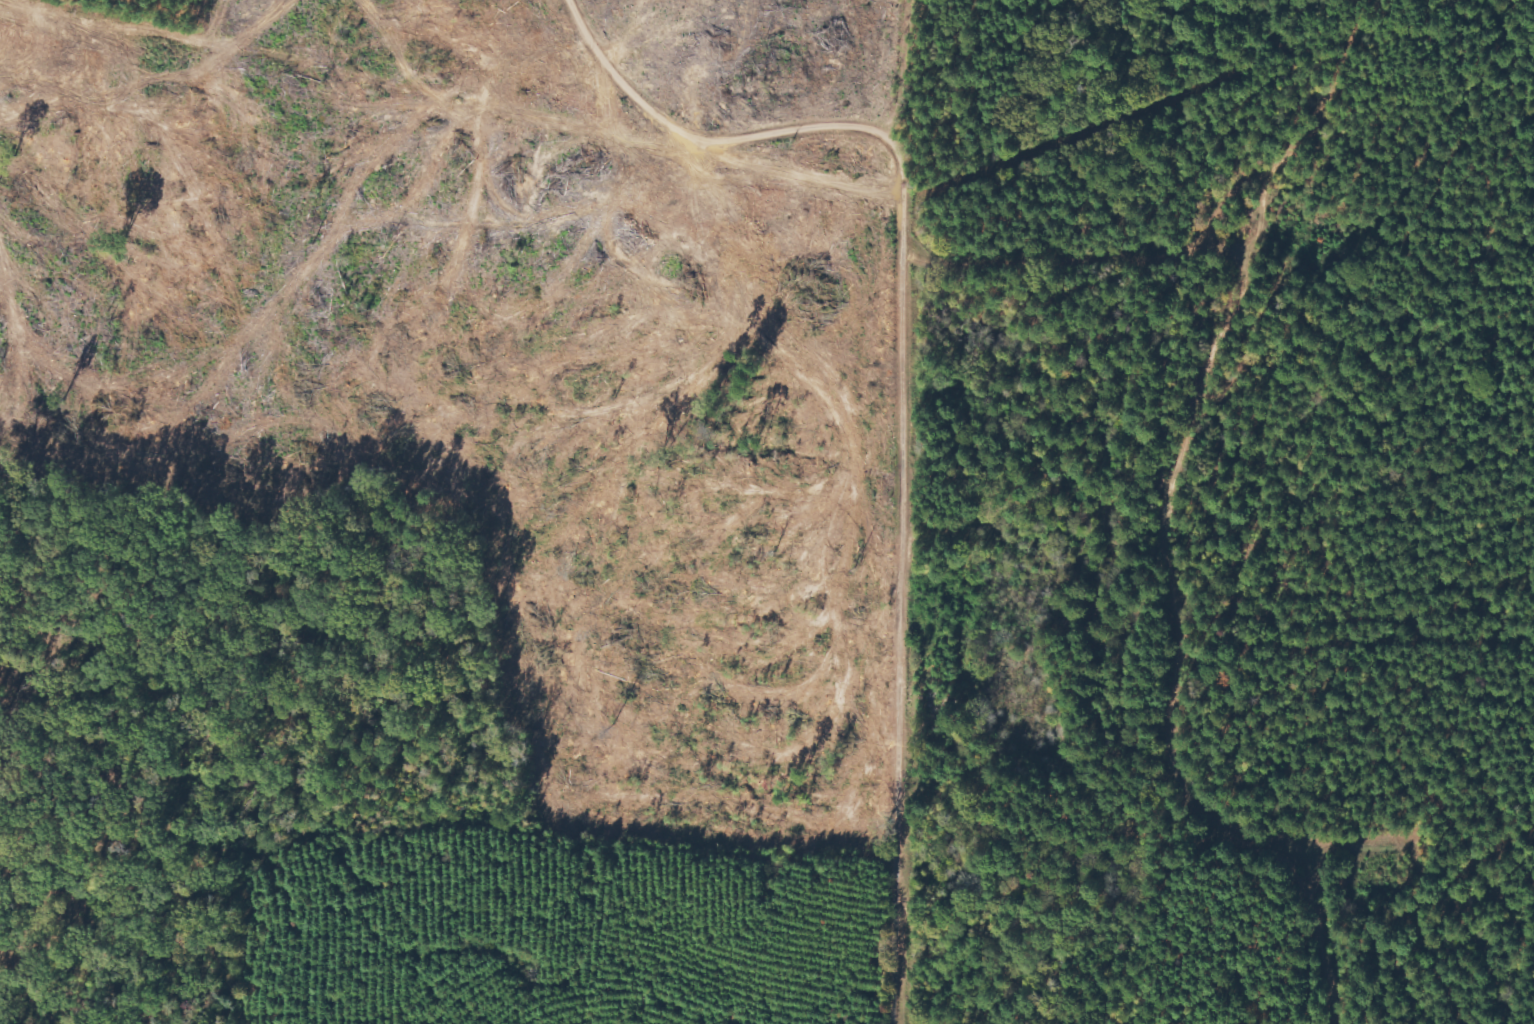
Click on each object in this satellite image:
road: (907, 383)
road: (1202, 480)

